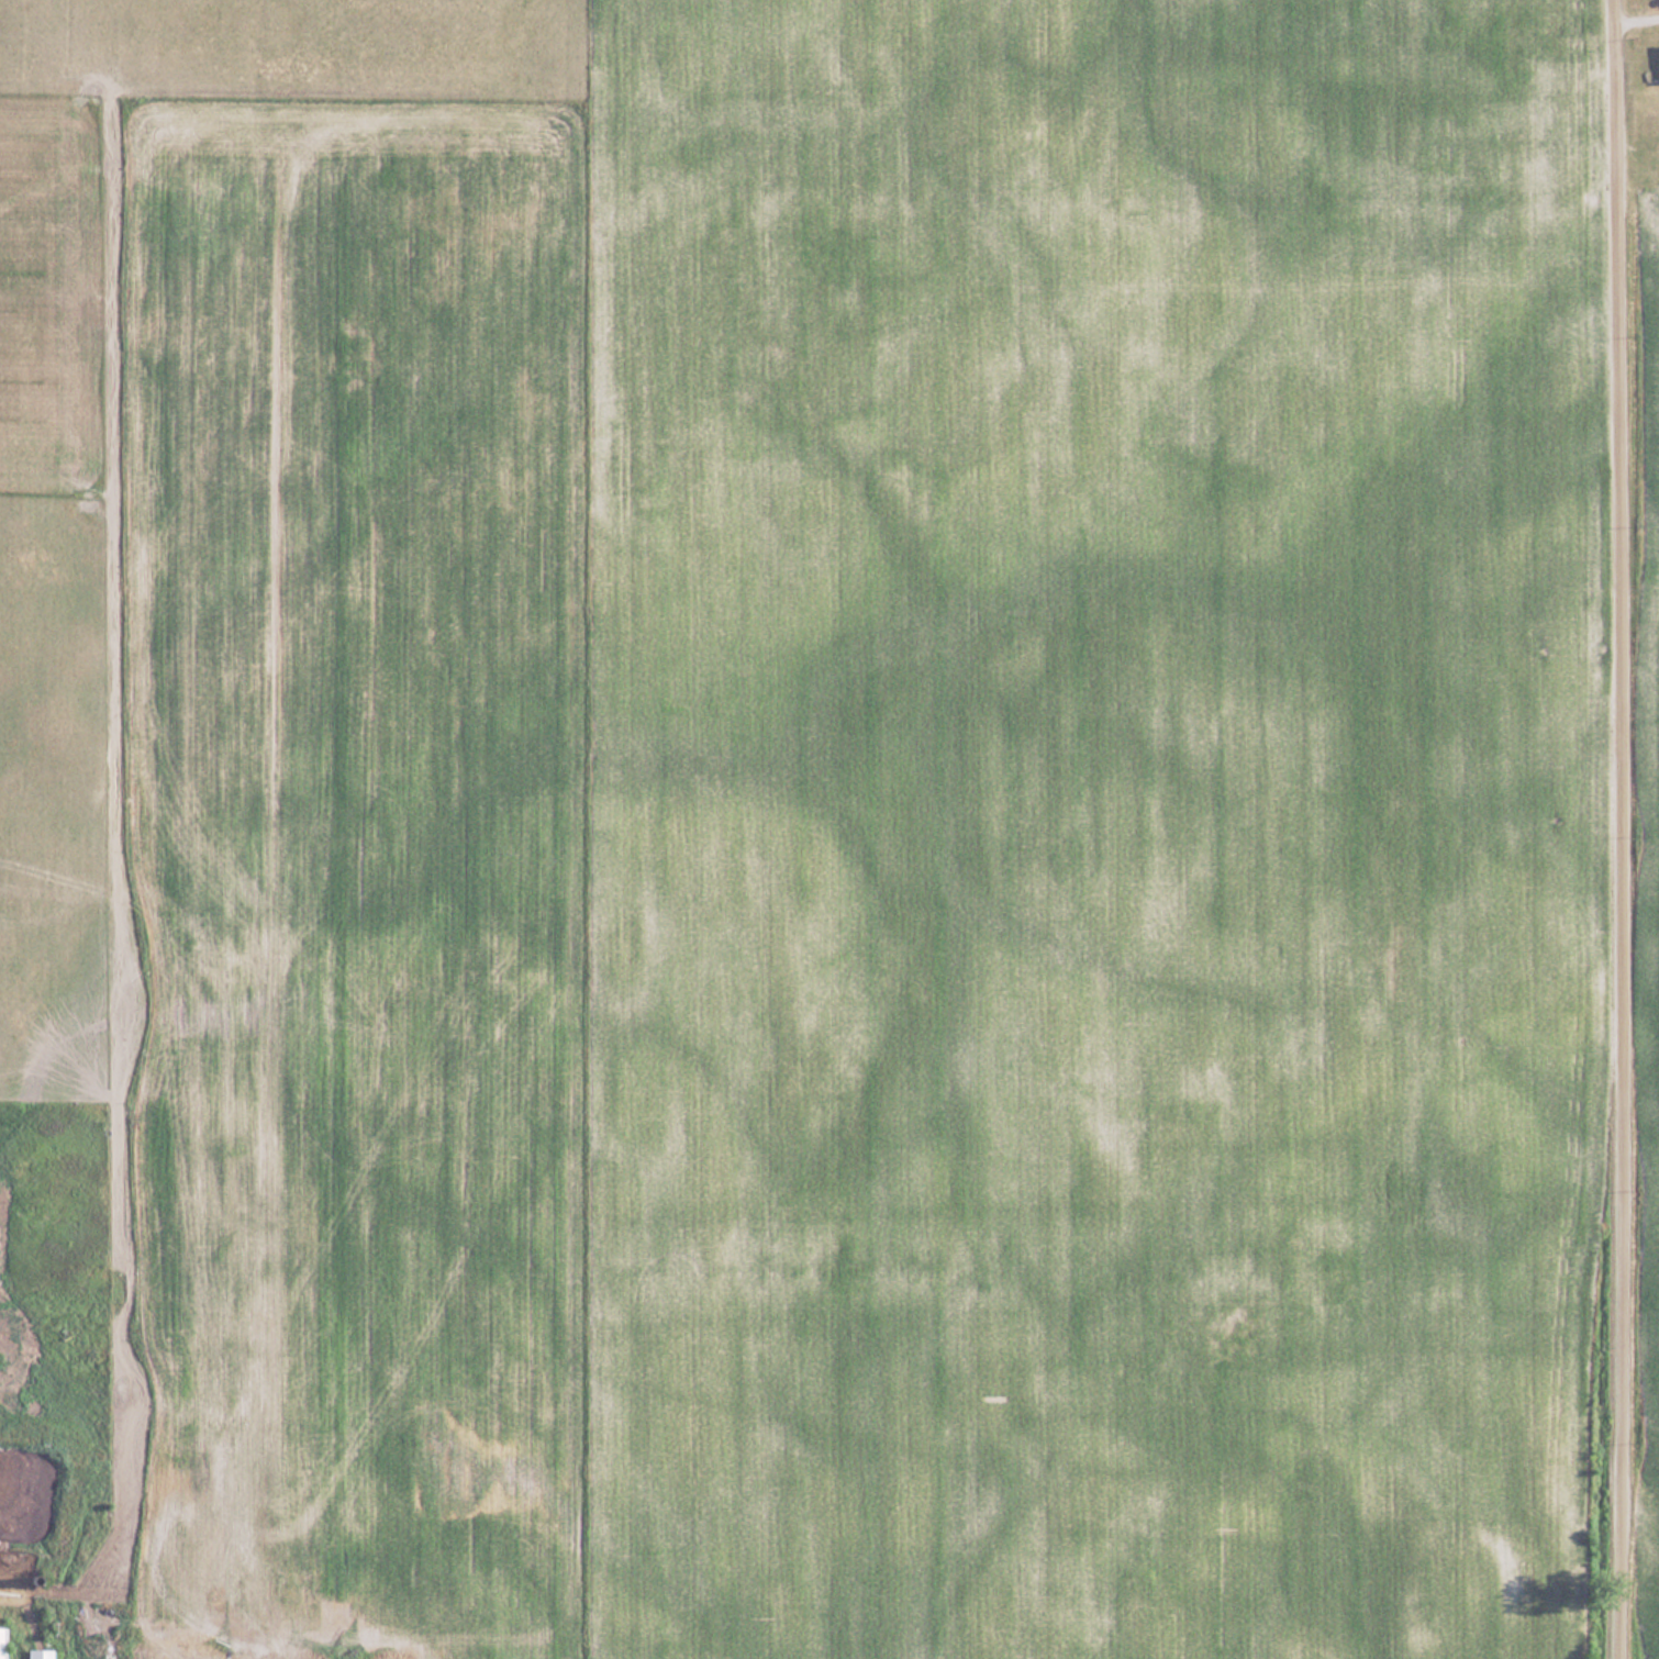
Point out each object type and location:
road: (1623, 828)
building: (2, 1643)
building: (42, 1654)

